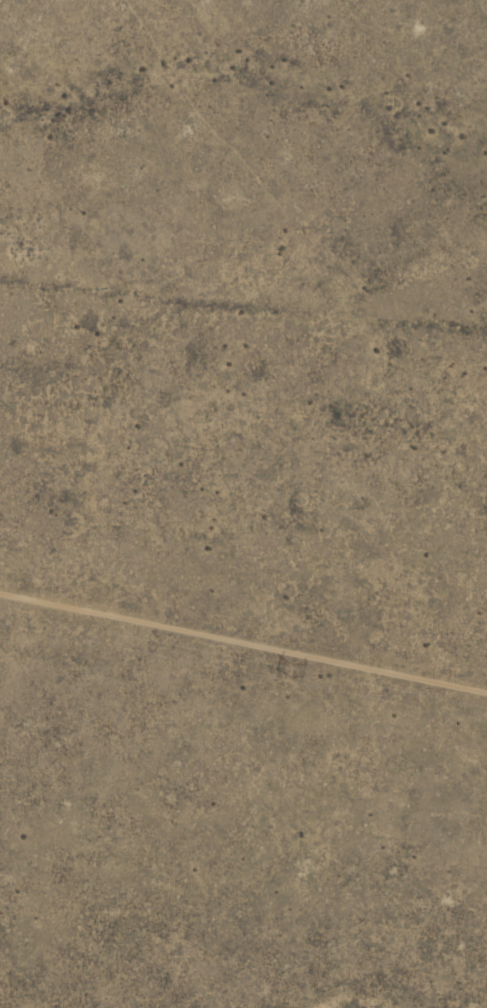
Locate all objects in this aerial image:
power tower: (287, 668)

